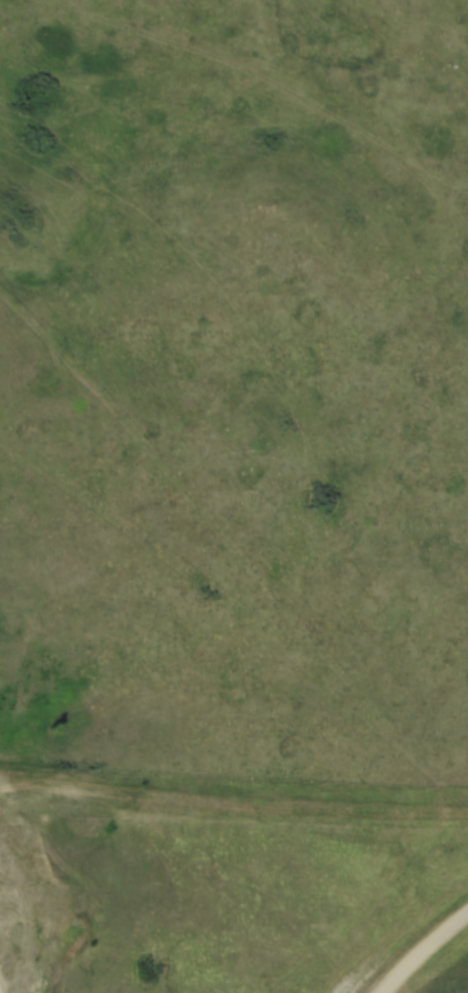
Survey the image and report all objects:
road: (419, 947)
road: (3, 981)

